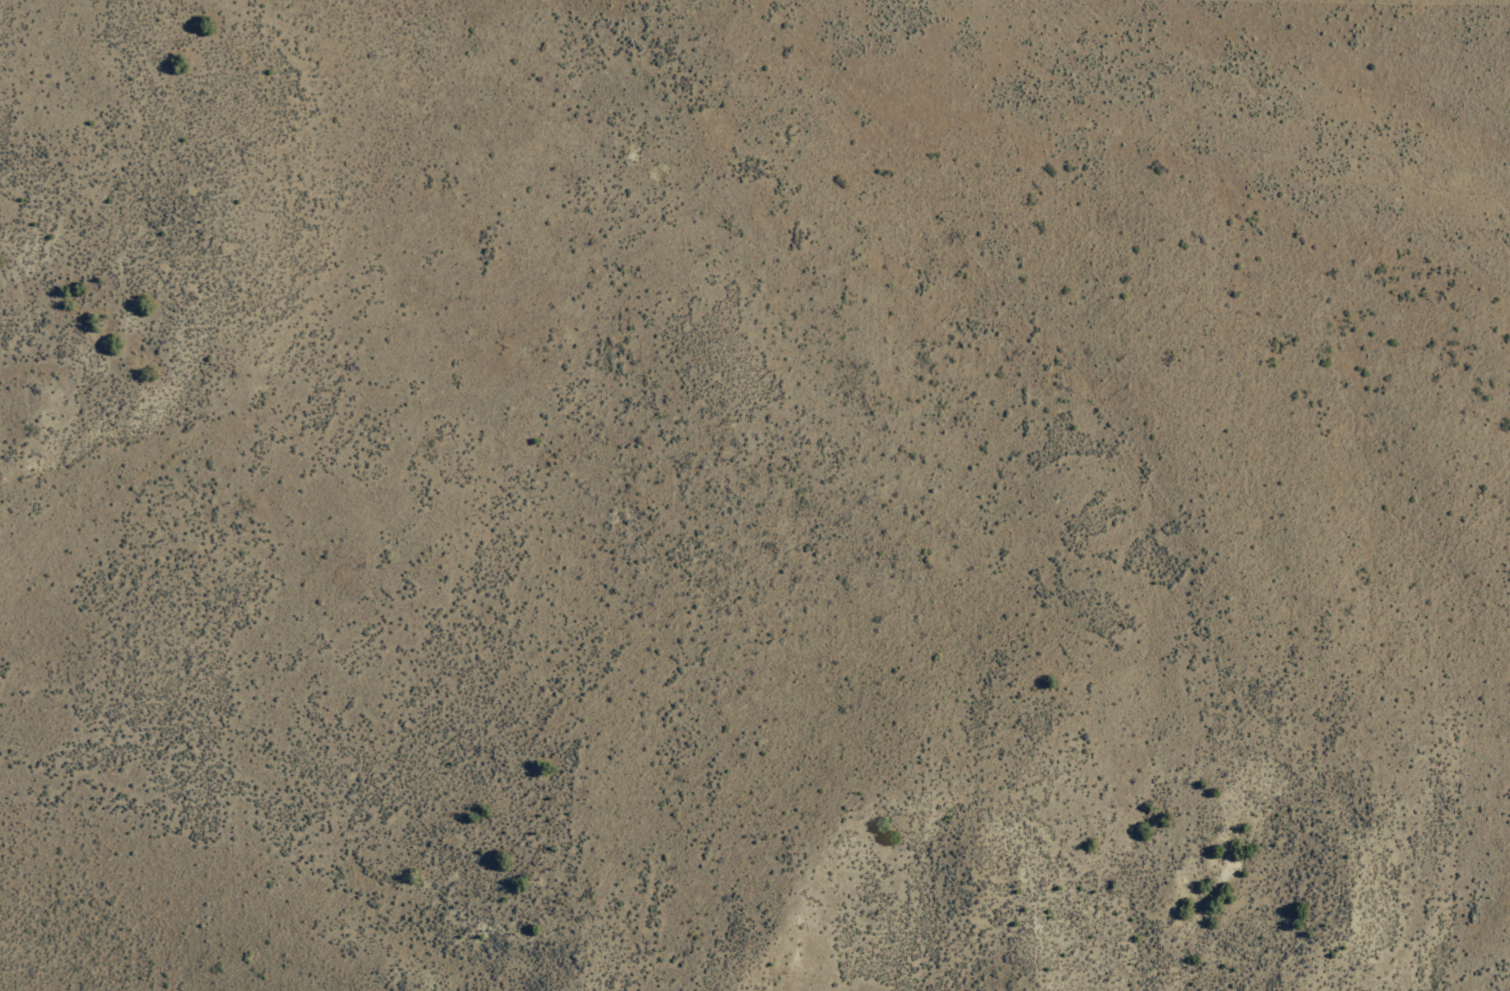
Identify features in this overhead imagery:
crop: (1276, 59)

